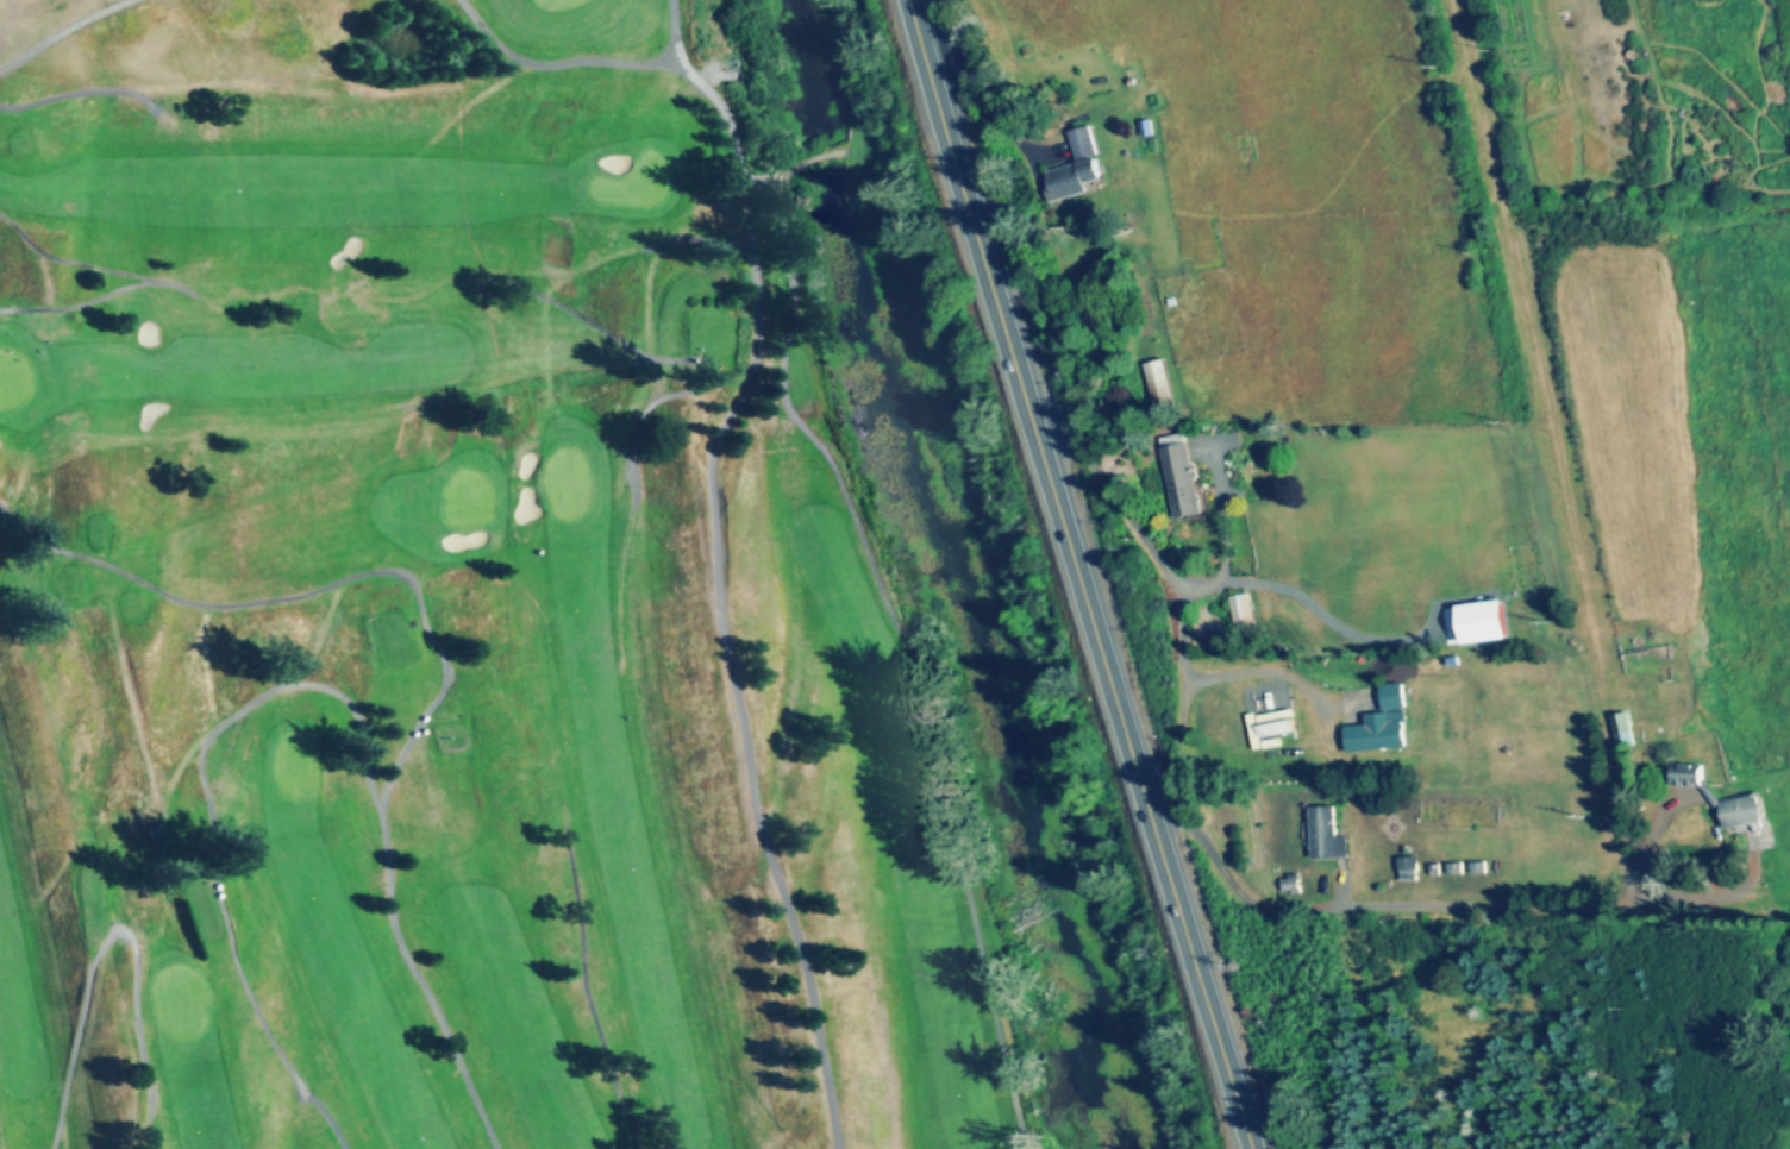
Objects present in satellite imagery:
building: (1074, 168)
building: (1158, 384)
building: (1179, 476)
railway: (1581, 573)
road: (1075, 574)
park: (447, 613)
building: (1244, 613)
building: (1272, 711)
building: (1383, 723)
building: (1625, 730)
building: (1689, 776)
building: (1745, 814)
building: (1327, 834)
building: (1410, 864)
road: (1423, 905)

